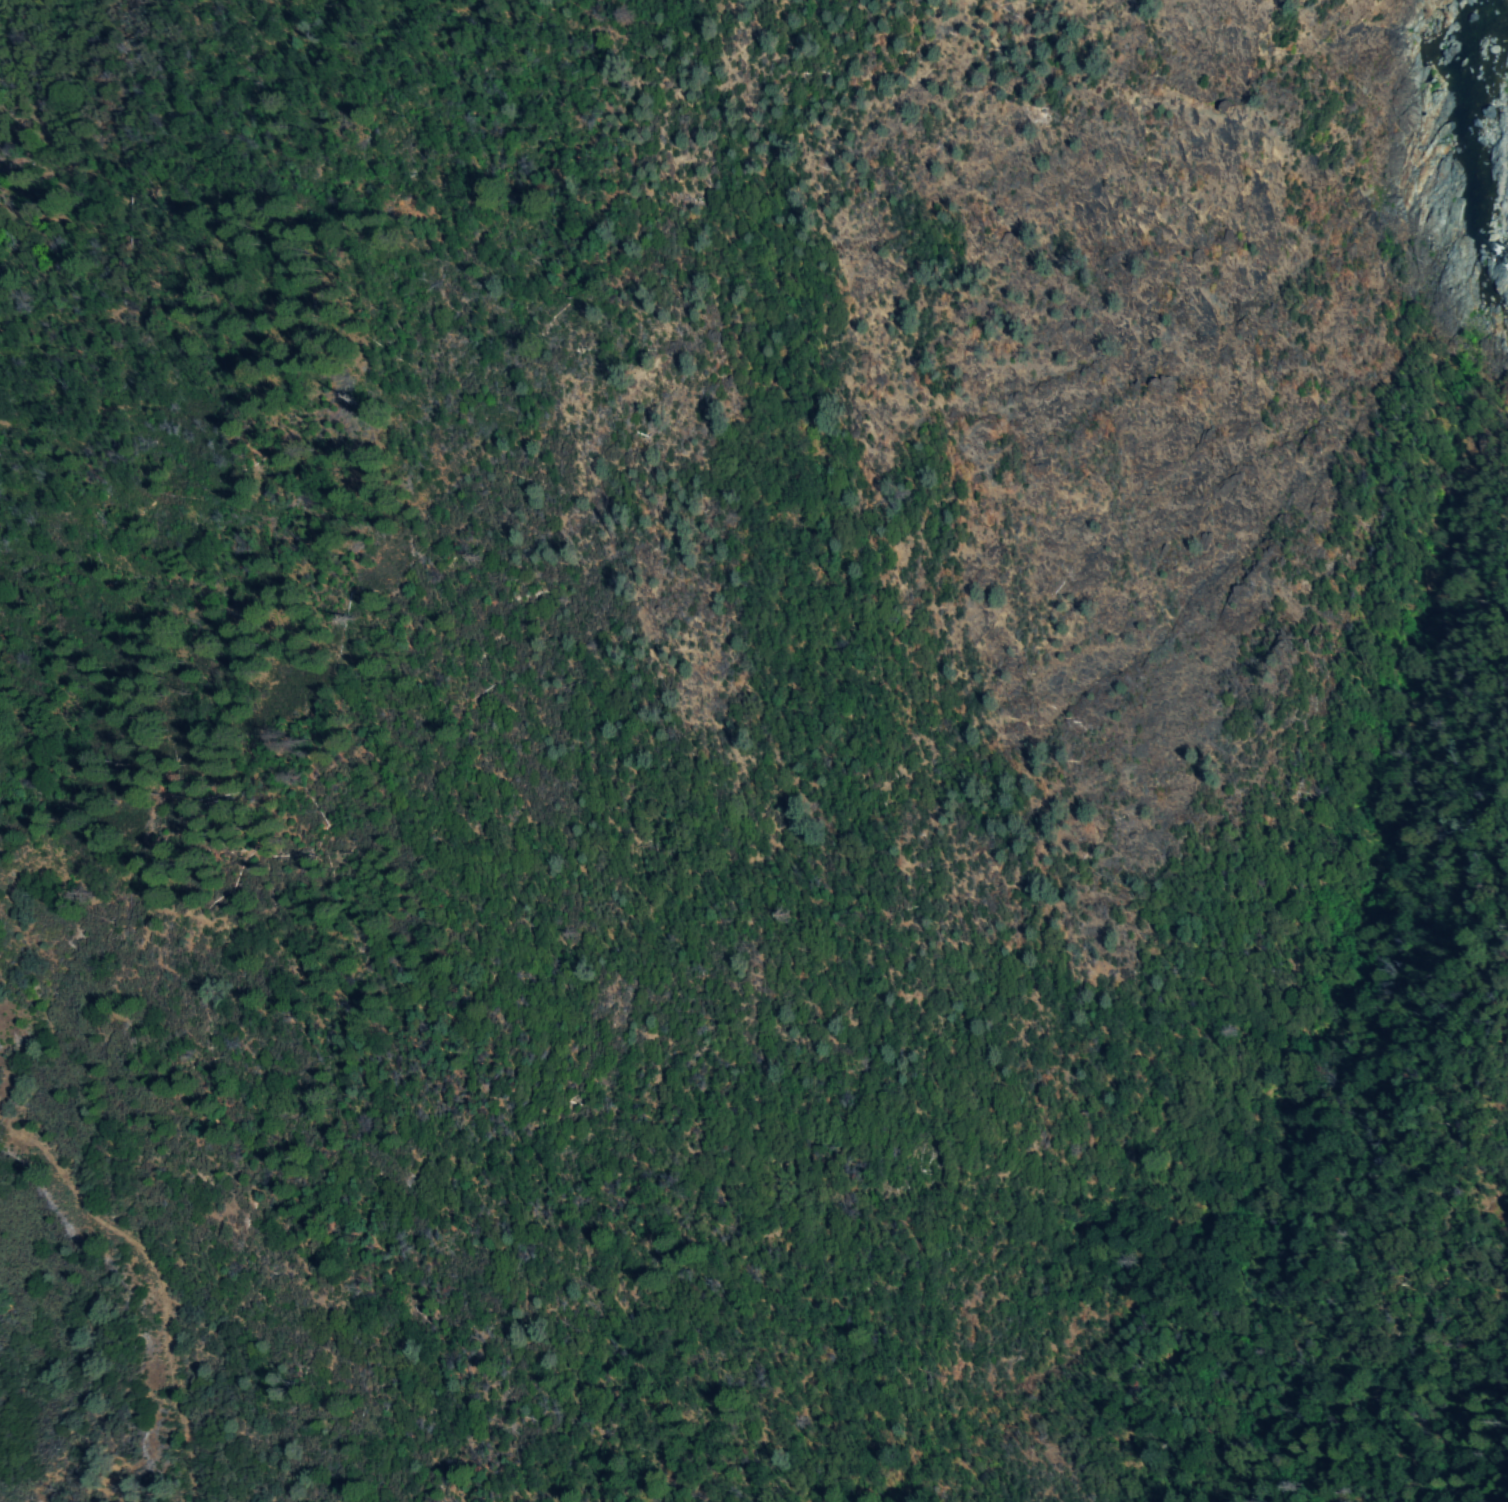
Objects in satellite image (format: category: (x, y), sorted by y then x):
river: (1461, 140)

